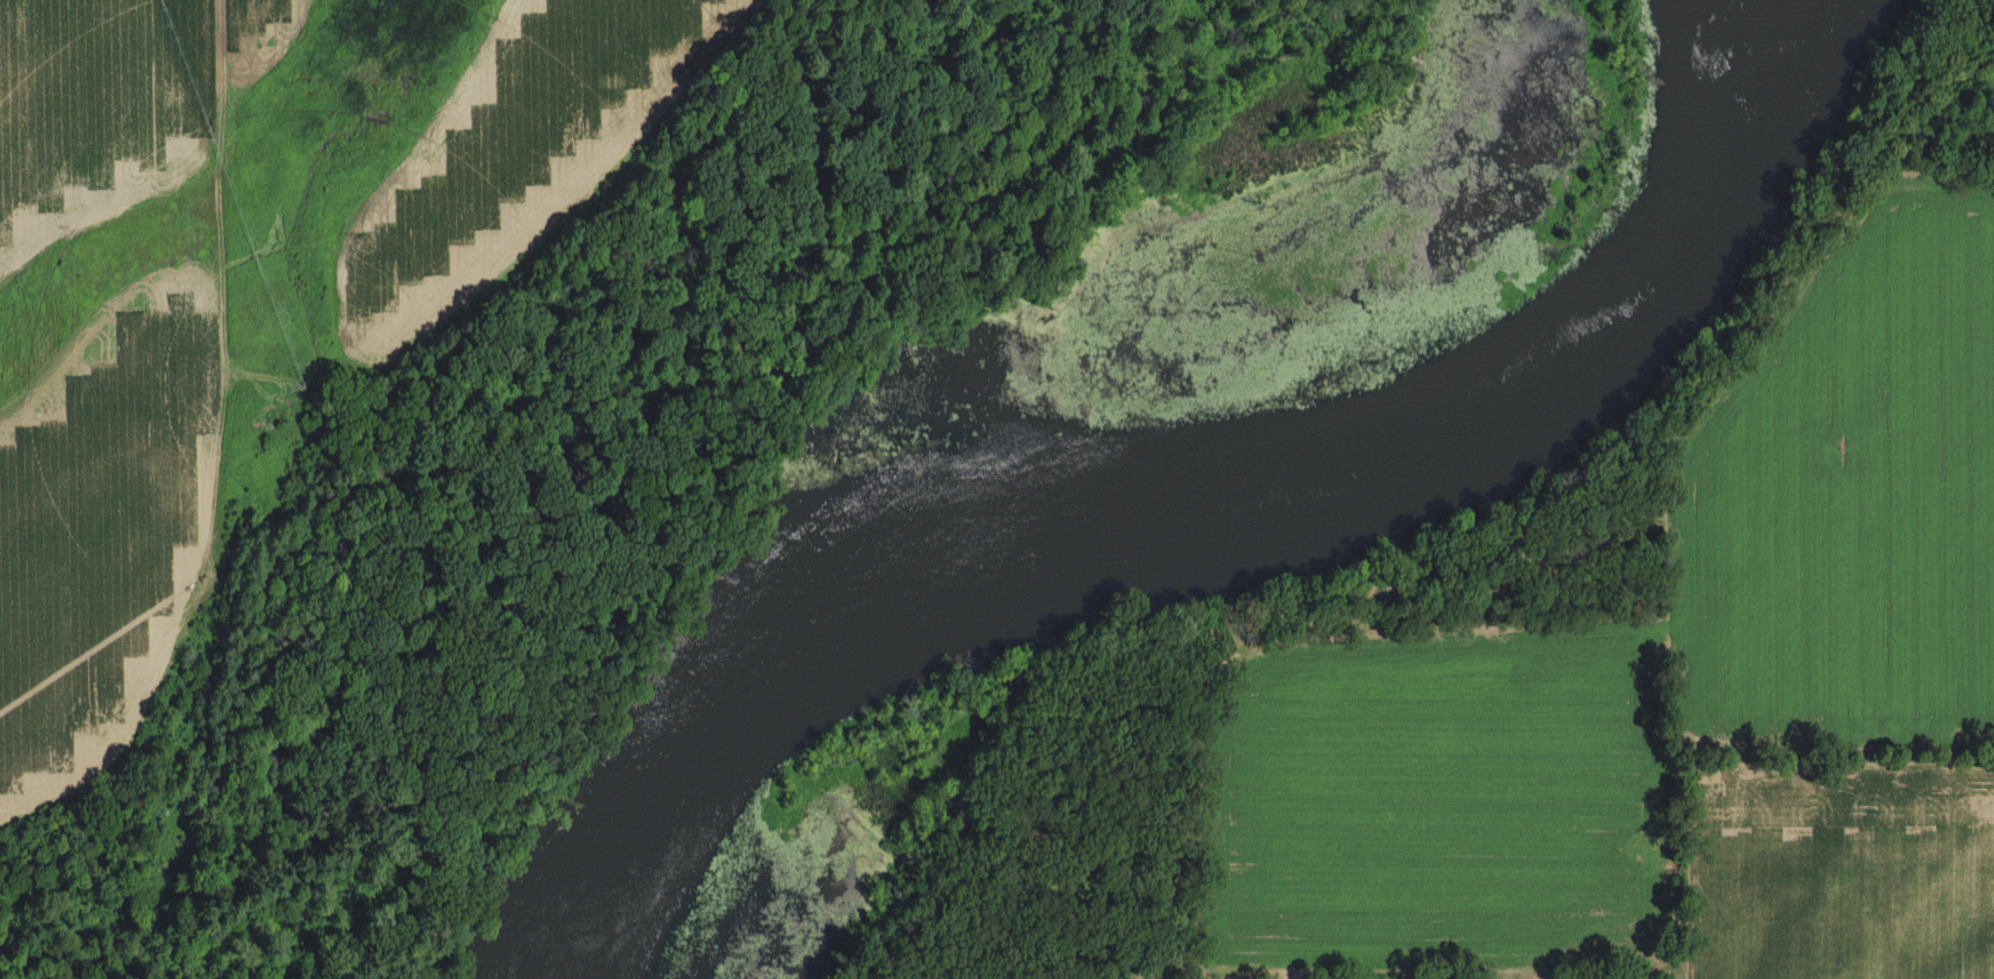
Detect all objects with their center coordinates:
river: (1181, 454)

